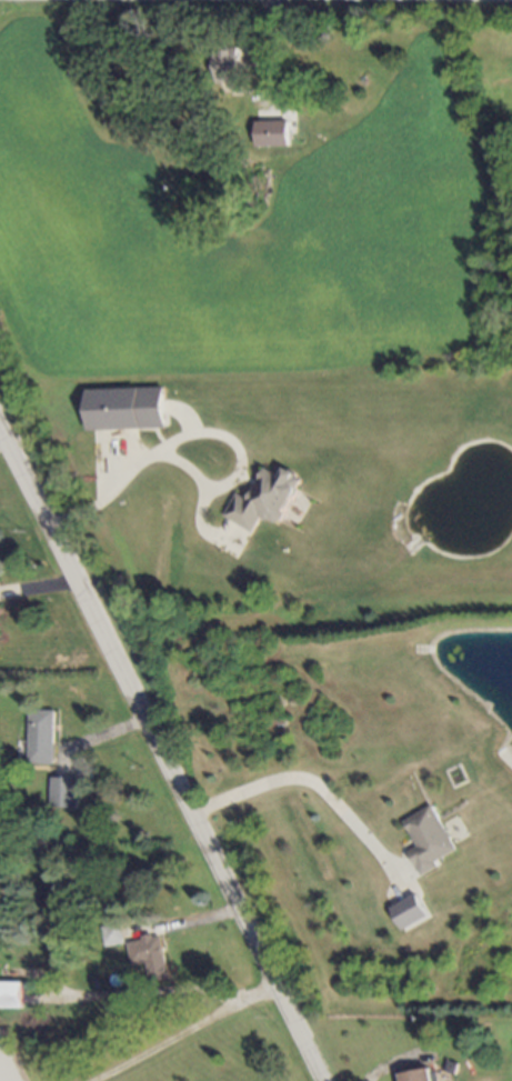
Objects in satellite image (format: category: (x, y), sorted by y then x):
building: (230, 64)
building: (273, 133)
building: (126, 408)
road: (124, 478)
building: (264, 499)
building: (41, 737)
road: (159, 761)
road: (307, 780)
building: (63, 792)
building: (429, 839)
building: (410, 911)
building: (150, 955)
building: (11, 994)
road: (169, 1028)
building: (9, 1060)
building: (419, 1075)

